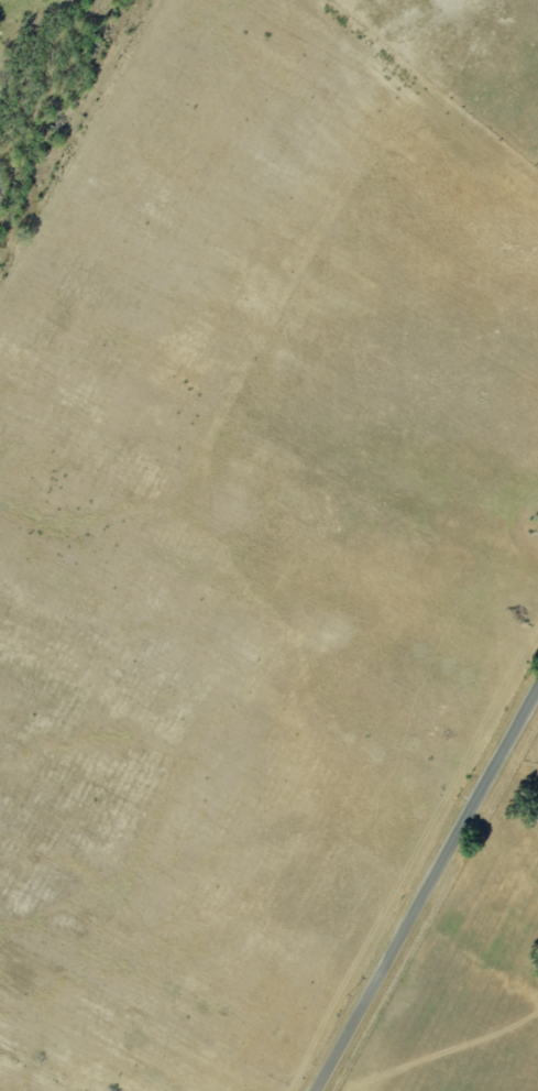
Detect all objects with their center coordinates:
road: (428, 894)

